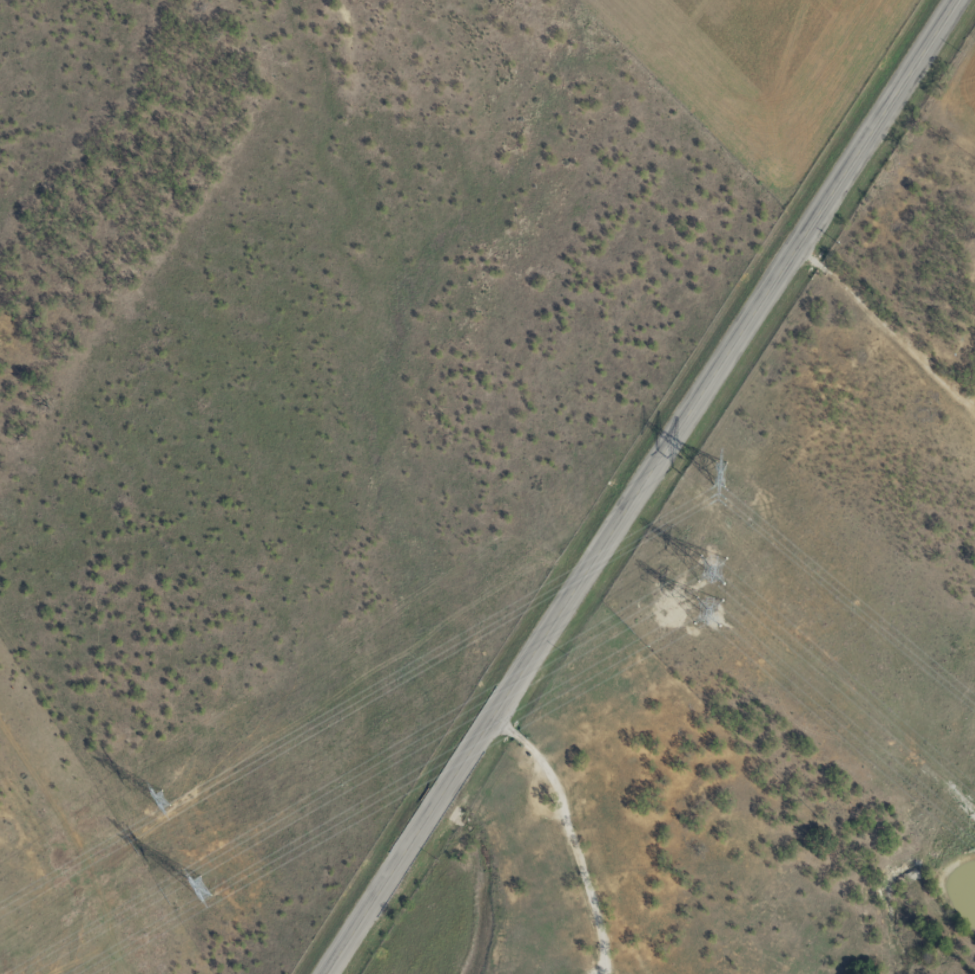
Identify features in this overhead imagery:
power tower: (717, 471)
road: (651, 487)
power tower: (704, 586)
power tower: (159, 797)
road: (599, 819)
power tower: (196, 884)
road: (39, 903)

